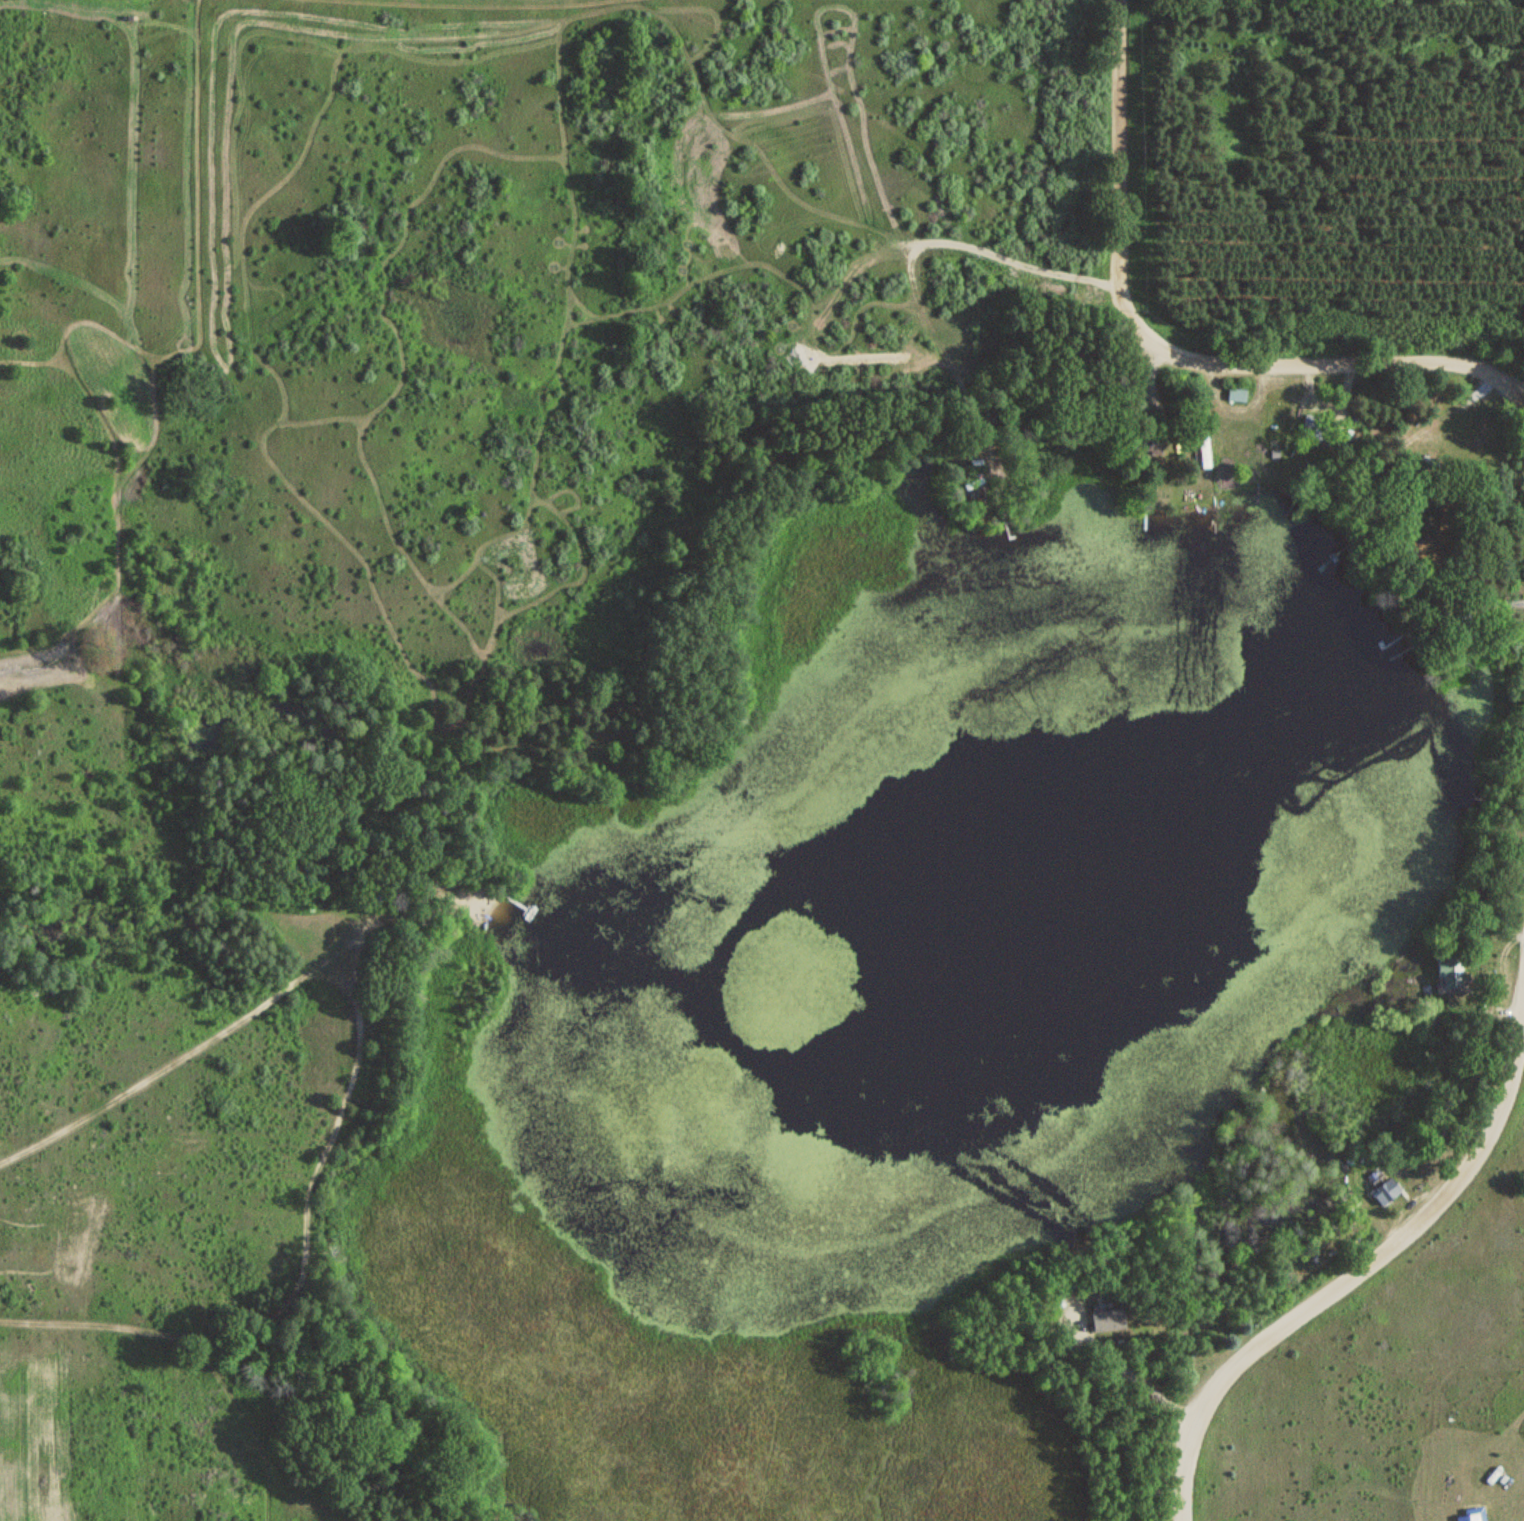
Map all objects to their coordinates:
road: (1034, 305)
road: (1166, 358)
building: (1234, 395)
building: (1237, 434)
building: (1446, 978)
building: (1383, 1191)
road: (1347, 1276)

